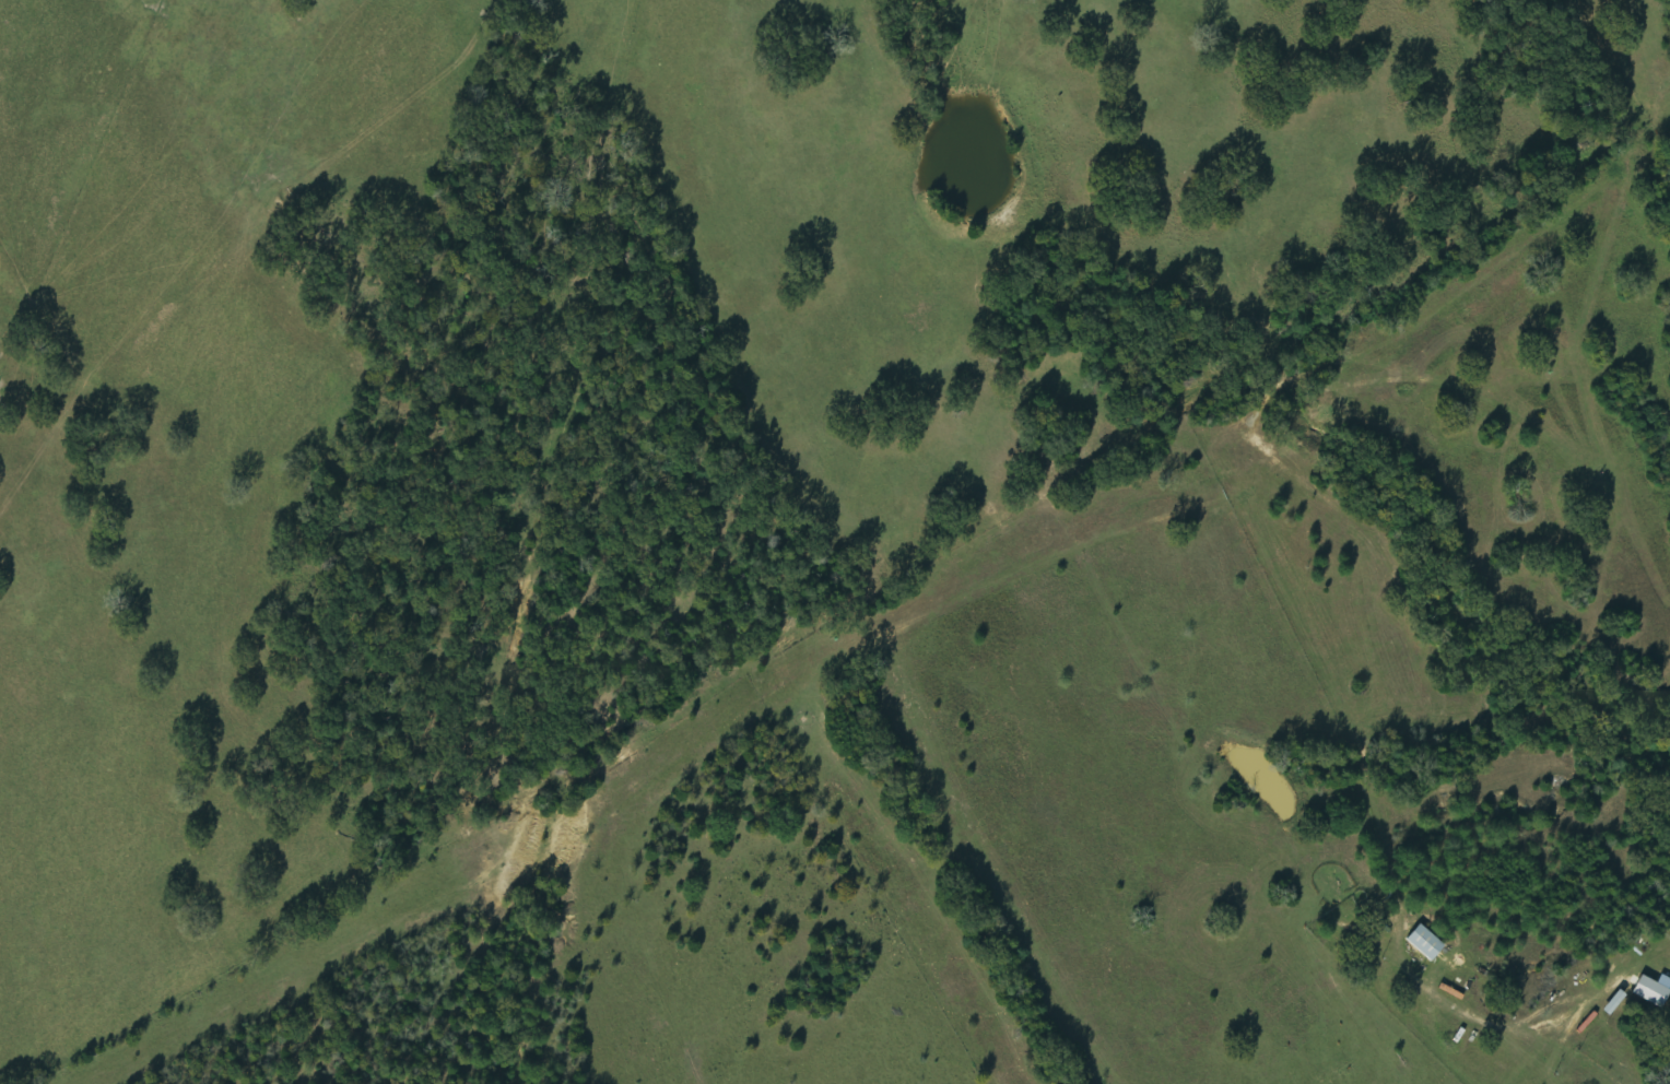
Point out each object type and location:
building: (1424, 943)
building: (1649, 992)

